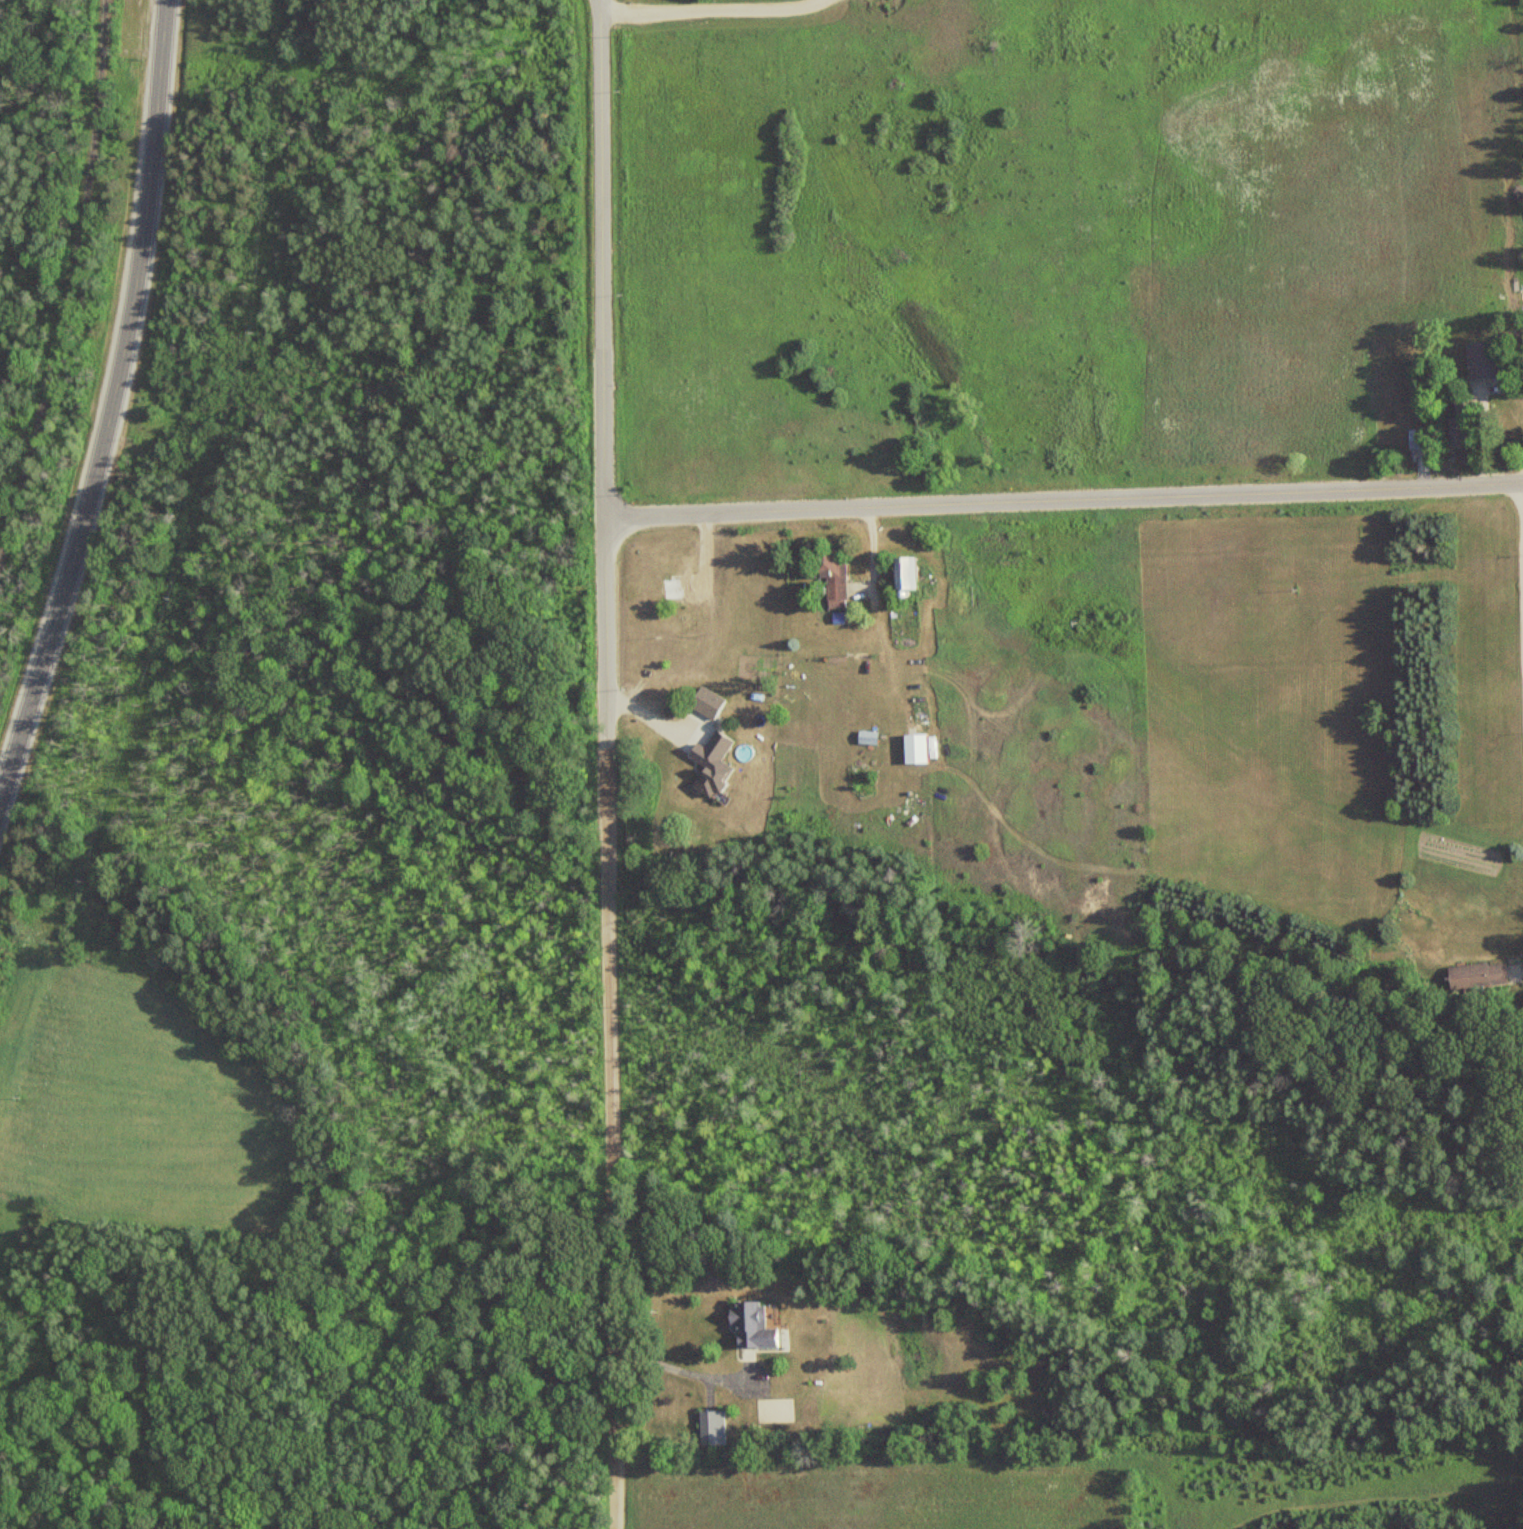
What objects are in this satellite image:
road: (704, 7)
road: (143, 235)
road: (65, 278)
building: (1480, 361)
building: (1415, 440)
road: (1063, 501)
road: (1520, 568)
building: (900, 574)
building: (828, 577)
building: (674, 589)
road: (49, 633)
building: (711, 703)
building: (865, 737)
building: (912, 749)
road: (602, 764)
building: (708, 765)
building: (1475, 976)
building: (750, 1325)
road: (680, 1373)
building: (709, 1427)

